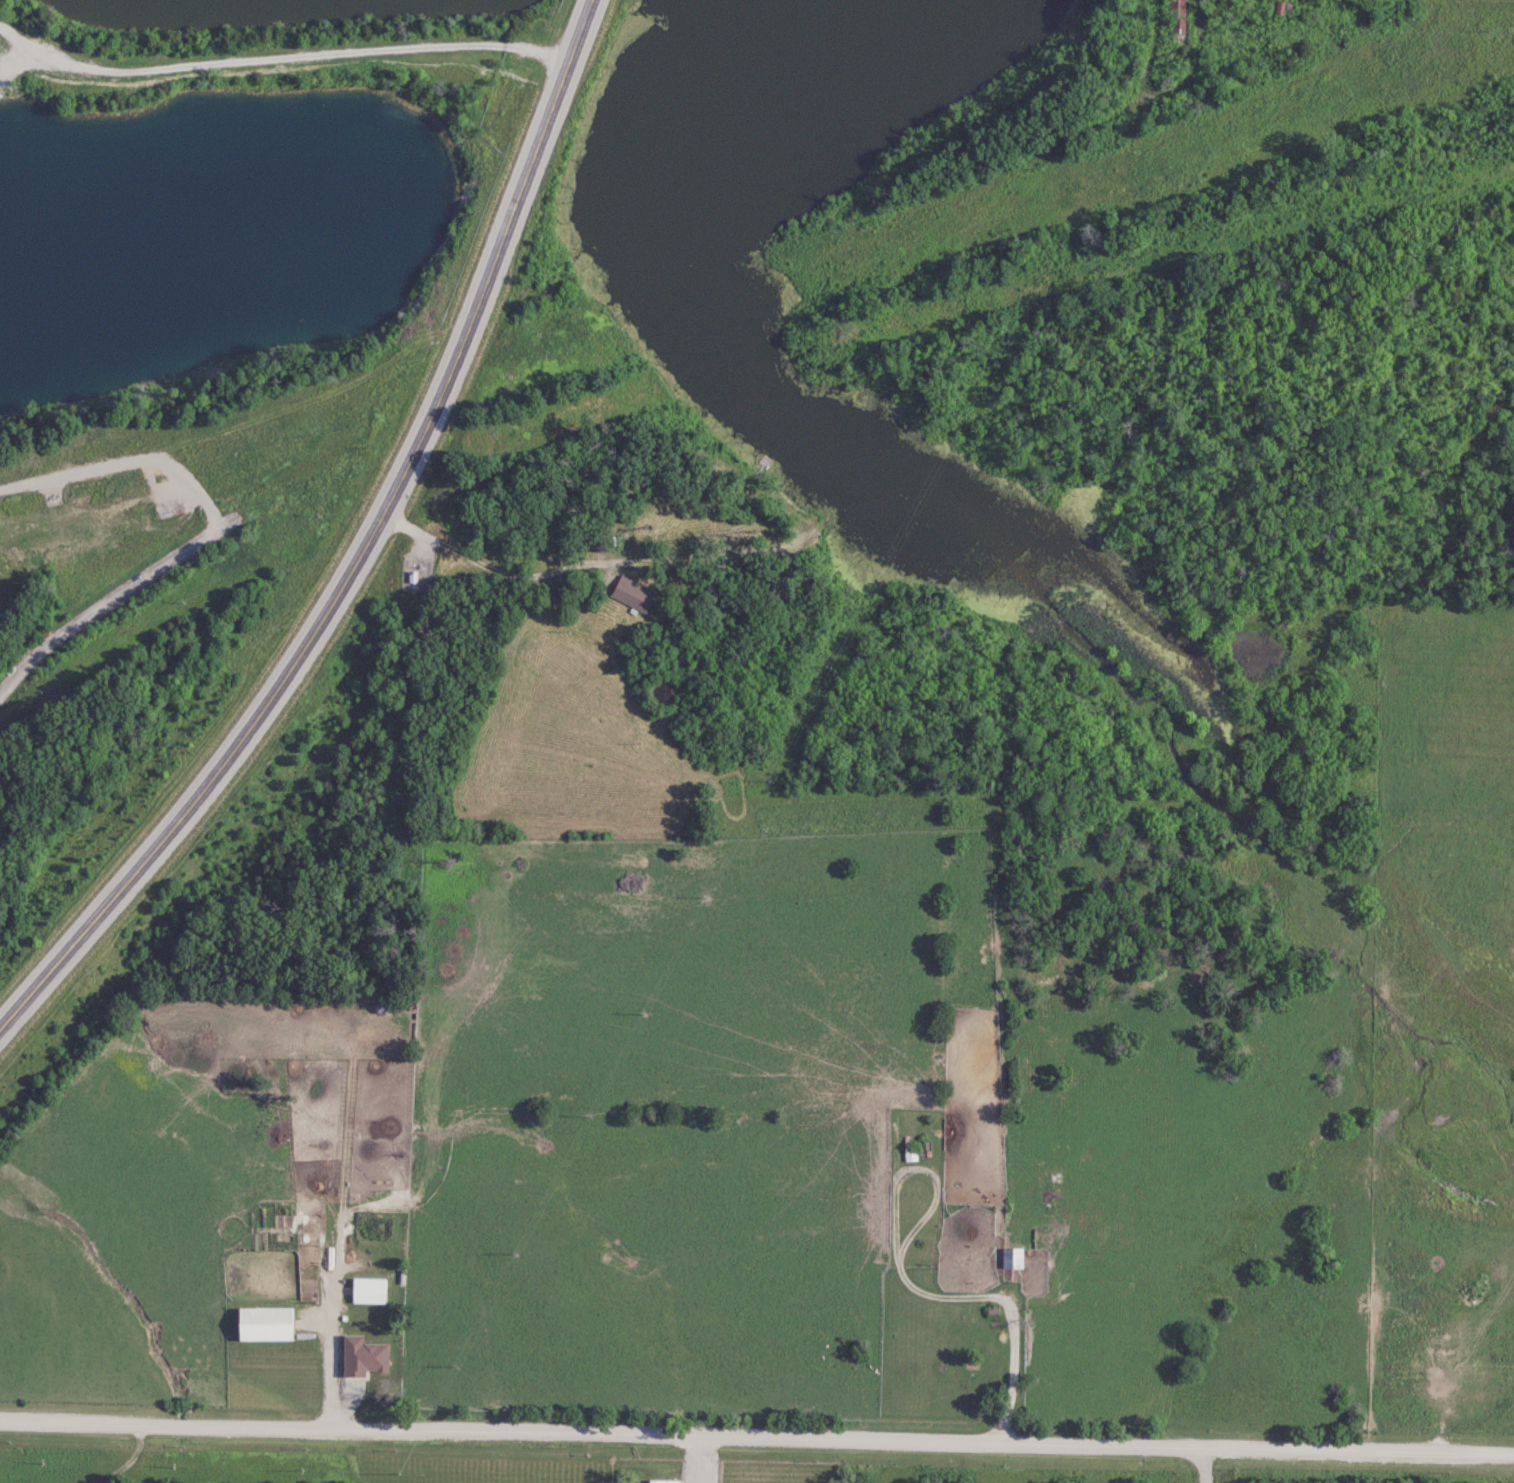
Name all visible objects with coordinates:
building: (1179, 16)
road: (16, 38)
road: (253, 62)
road: (362, 552)
building: (631, 593)
road: (107, 603)
building: (1012, 1257)
road: (913, 1285)
building: (368, 1290)
building: (263, 1323)
building: (361, 1356)
road: (757, 1435)
road: (701, 1459)
road: (1206, 1466)
building: (664, 1481)

